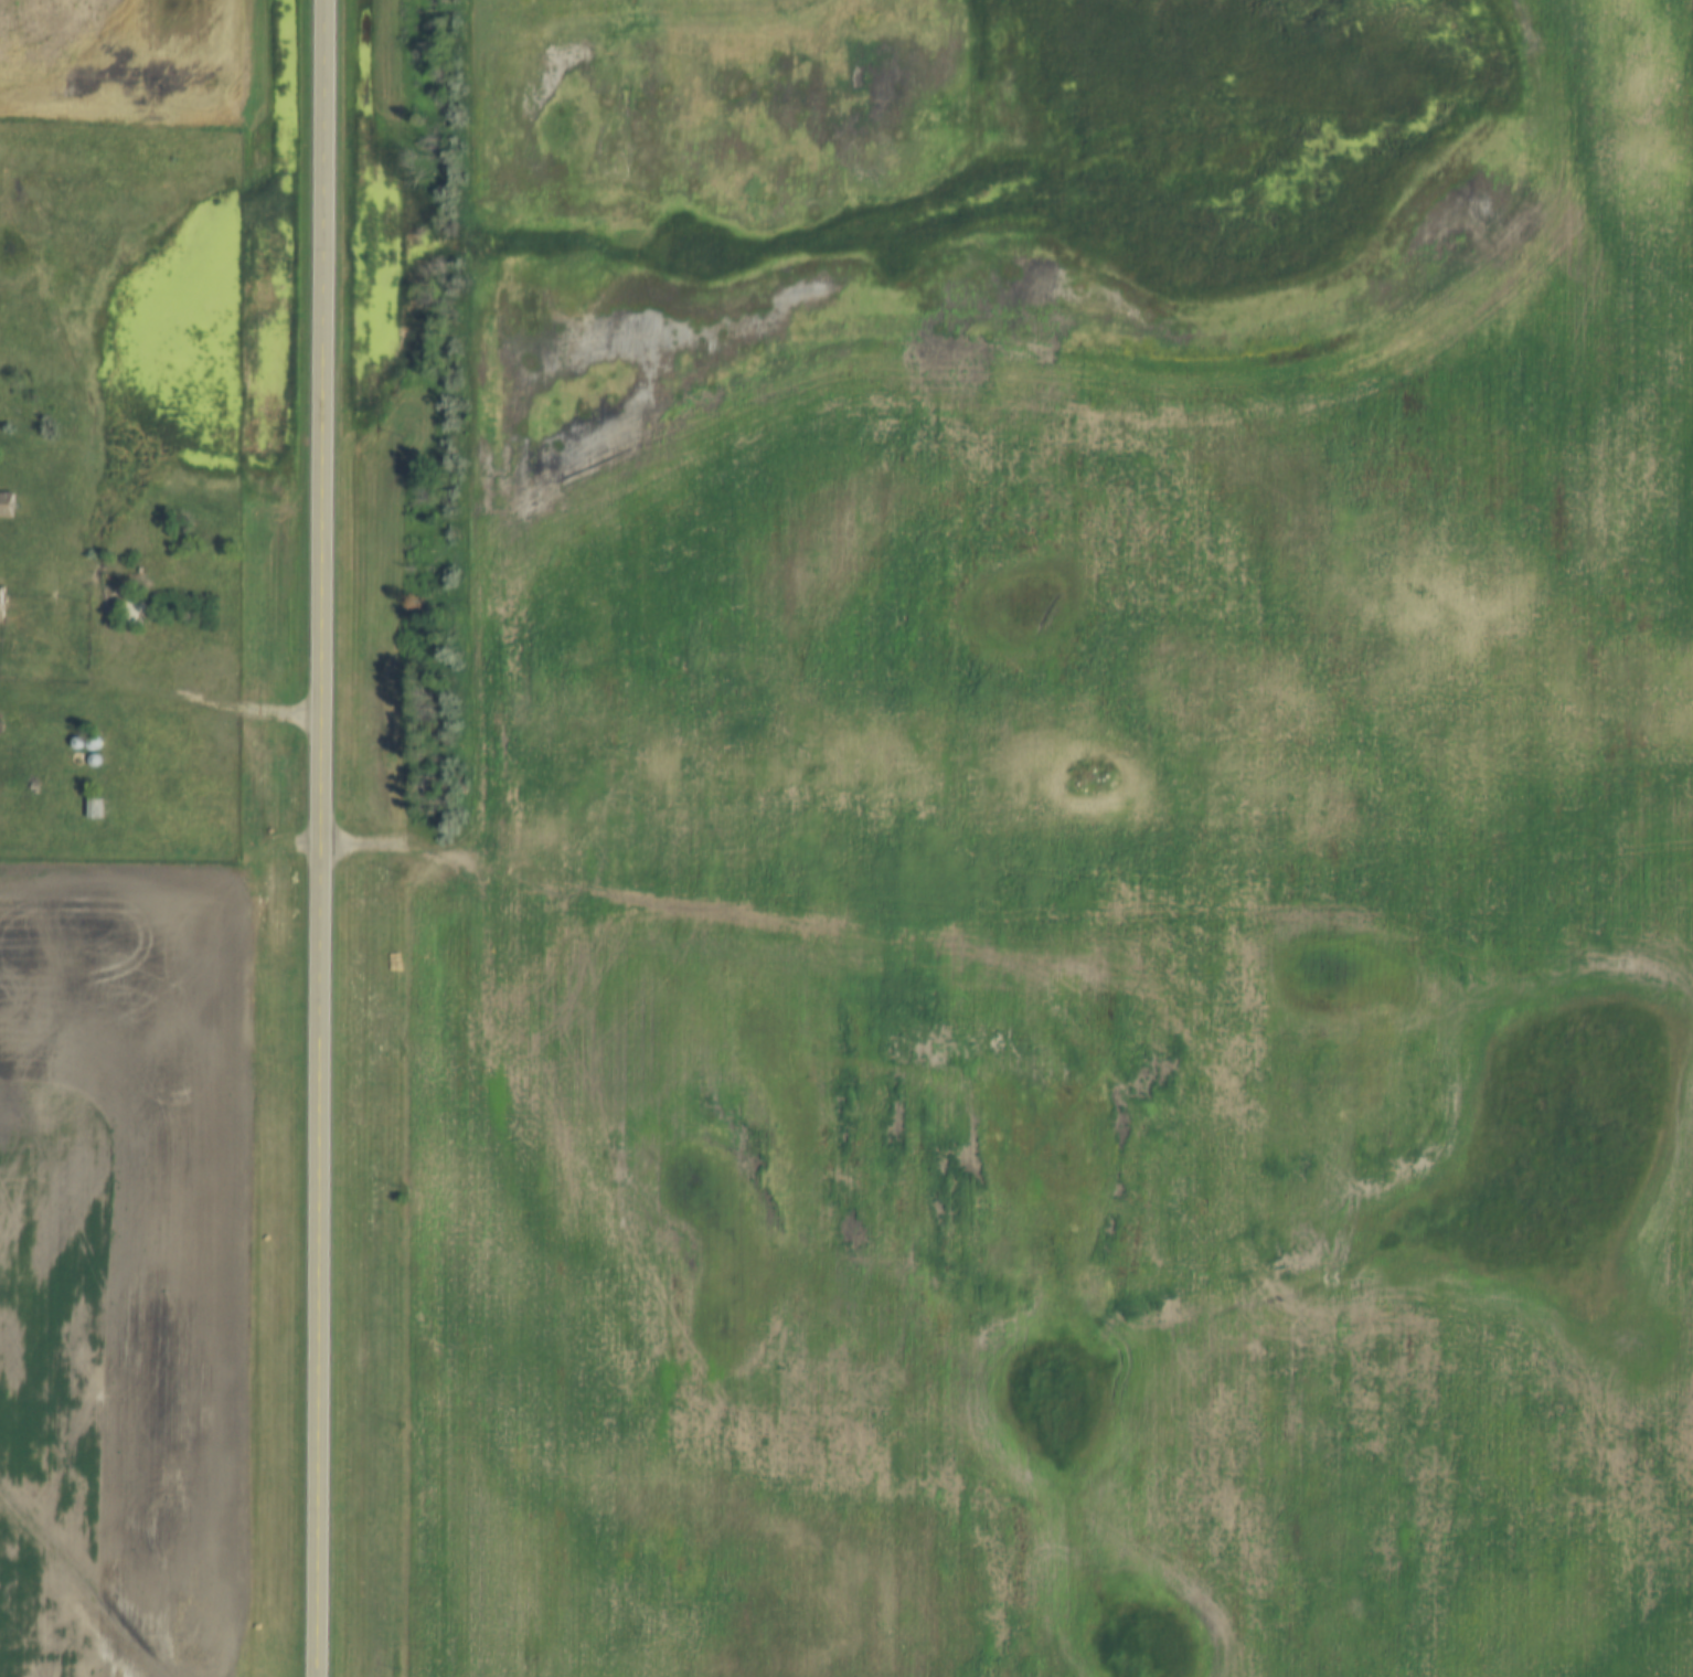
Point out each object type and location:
building: (6, 505)
road: (468, 549)
building: (106, 598)
building: (132, 613)
road: (161, 700)
building: (93, 808)
road: (322, 838)

